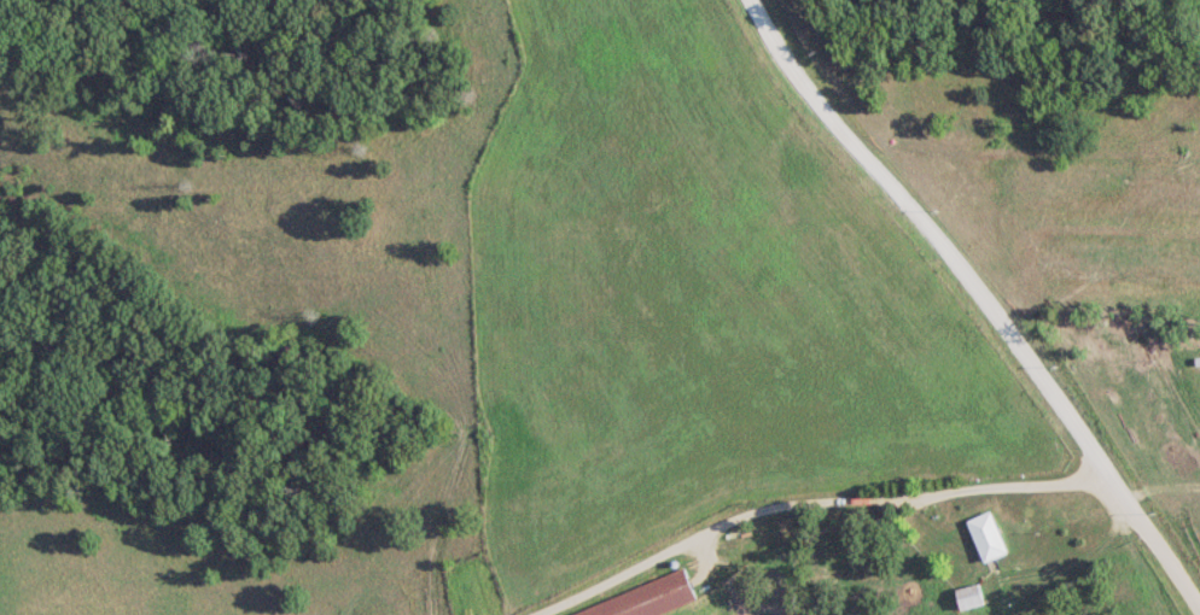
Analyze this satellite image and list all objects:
road: (981, 300)
building: (986, 534)
building: (968, 594)
building: (647, 598)

